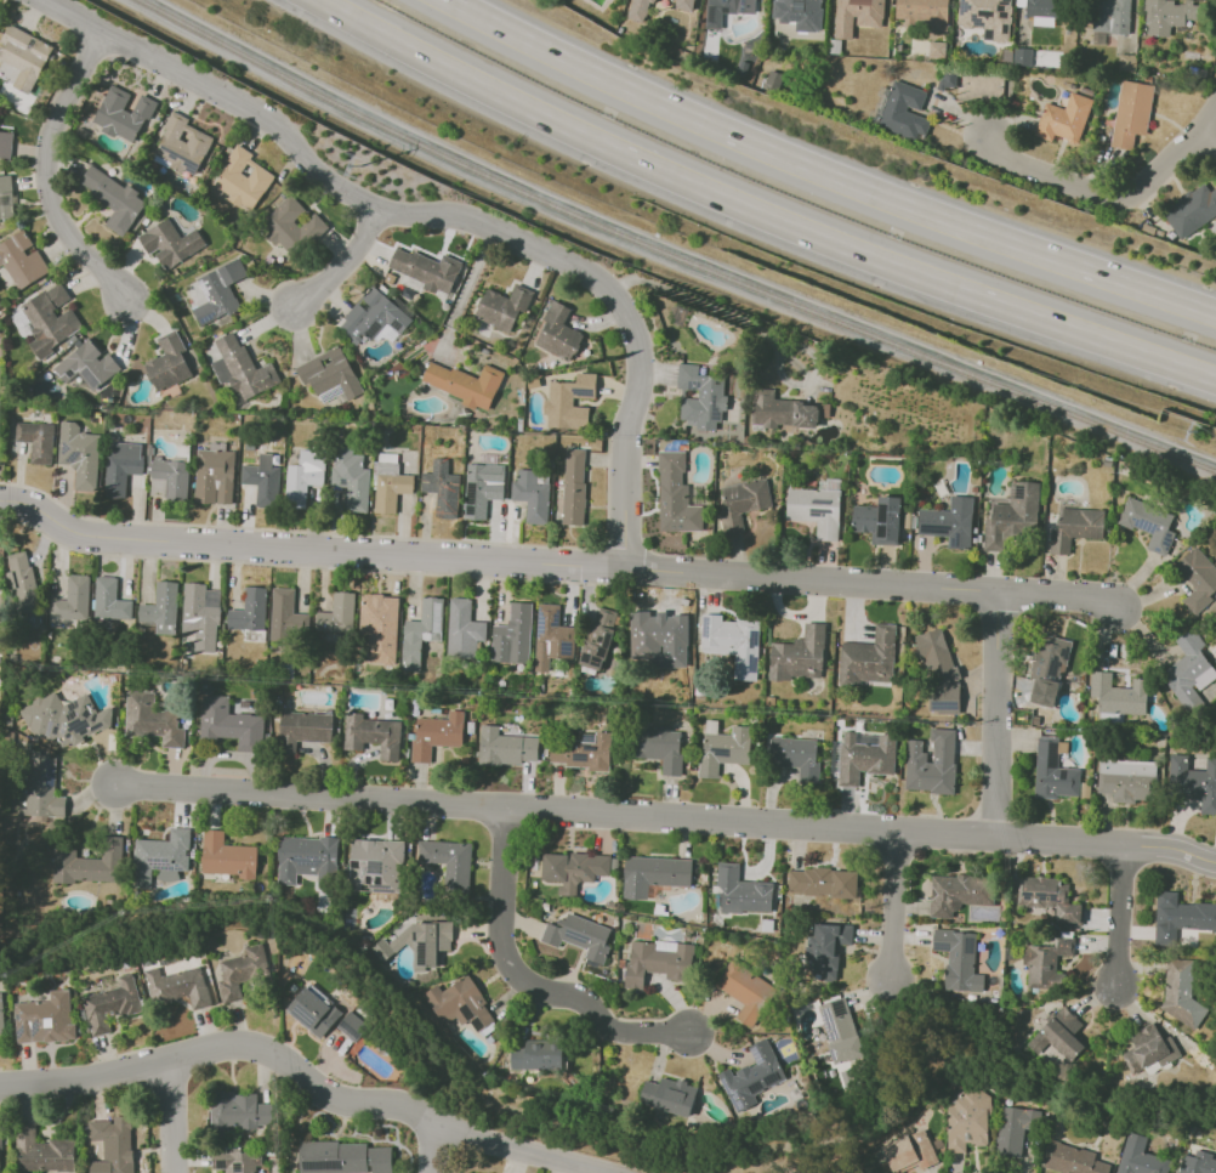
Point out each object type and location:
building: (803, 0)
rooftop solar panel: (1006, 1)
building: (687, 4)
rooftop solar panel: (965, 6)
building: (643, 7)
building: (1049, 8)
building: (720, 10)
rooftop solar panel: (999, 10)
building: (928, 12)
rooftop solar panel: (1004, 13)
building: (1176, 13)
building: (859, 15)
rooftop solar panel: (987, 15)
building: (987, 16)
building: (1110, 16)
rooftop solar panel: (977, 23)
rooftop solar panel: (1005, 29)
building: (936, 49)
building: (23, 56)
building: (1023, 56)
building: (903, 112)
building: (1131, 113)
building: (121, 114)
building: (1063, 119)
road: (1211, 141)
building: (5, 144)
building: (181, 146)
rooftop solar panel: (180, 157)
power tower: (364, 166)
road: (44, 175)
road: (819, 176)
building: (242, 178)
building: (114, 199)
building: (6, 200)
road: (1112, 202)
building: (1191, 210)
road: (447, 215)
road: (754, 216)
building: (289, 226)
building: (169, 243)
railway: (669, 255)
building: (21, 260)
road: (342, 262)
road: (655, 262)
building: (425, 270)
rooftop solar panel: (203, 288)
building: (217, 291)
road: (462, 291)
rooftop solar panel: (363, 306)
building: (501, 307)
building: (371, 317)
building: (49, 318)
rooftop solar panel: (208, 318)
rooftop solar panel: (396, 327)
road: (755, 327)
rooftop solar panel: (371, 330)
building: (558, 333)
building: (167, 363)
building: (86, 365)
building: (240, 368)
building: (329, 375)
building: (465, 384)
rooftop solar panel: (585, 395)
building: (699, 398)
building: (568, 401)
building: (824, 409)
building: (780, 410)
power tower: (1195, 433)
building: (35, 441)
building: (78, 454)
building: (120, 466)
building: (214, 476)
building: (303, 476)
building: (172, 477)
building: (350, 478)
building: (261, 480)
building: (390, 483)
building: (573, 487)
building: (442, 488)
building: (482, 488)
rooftop solar panel: (1021, 489)
building: (532, 494)
building: (675, 494)
rooftop solar panel: (470, 495)
building: (741, 503)
building: (814, 510)
rooftop solar panel: (470, 514)
rooftop solar panel: (883, 514)
building: (1011, 515)
building: (877, 520)
building: (948, 522)
building: (1147, 523)
rooftop solar panel: (937, 526)
rooftop solar panel: (1144, 526)
building: (1074, 528)
rooftop solar panel: (881, 534)
rooftop solar panel: (1167, 539)
rooftop solar panel: (956, 543)
road: (558, 566)
building: (1197, 578)
building: (21, 582)
building: (72, 599)
building: (109, 600)
building: (160, 608)
building: (249, 611)
building: (280, 613)
building: (337, 613)
building: (200, 614)
rooftop solar panel: (436, 617)
rooftop solar panel: (556, 620)
rooftop solar panel: (540, 624)
rooftop solar panel: (706, 627)
building: (376, 628)
building: (420, 631)
building: (461, 631)
building: (511, 635)
rooftop solar panel: (427, 636)
building: (550, 637)
building: (597, 639)
rooftop solar panel: (752, 639)
building: (657, 640)
building: (731, 641)
rooftop solar panel: (566, 648)
rooftop solar panel: (1064, 652)
building: (797, 654)
building: (869, 657)
building: (1047, 664)
rooftop solar panel: (752, 665)
building: (1186, 667)
rooftop solar panel: (1055, 668)
building: (938, 671)
rooftop solar panel: (1056, 678)
rooftop solar panel: (1053, 688)
rooftop solar panel: (1046, 695)
building: (1118, 695)
road: (995, 714)
building: (64, 718)
building: (150, 720)
rooftop solar panel: (74, 721)
building: (227, 722)
rooftop solar panel: (74, 726)
rooftop solar panel: (83, 727)
rooftop solar panel: (95, 727)
rooftop solar panel: (49, 729)
building: (302, 729)
rooftop solar panel: (56, 730)
building: (371, 735)
building: (434, 735)
rooftop solar panel: (589, 739)
building: (504, 747)
building: (659, 748)
building: (722, 750)
building: (583, 752)
rooftop solar panel: (717, 752)
rooftop solar panel: (1052, 754)
building: (795, 755)
rooftop solar panel: (580, 758)
building: (863, 758)
building: (931, 763)
building: (1052, 771)
rooftop solar panel: (1063, 773)
rooftop solar panel: (50, 775)
building: (1126, 780)
building: (1192, 781)
building: (36, 786)
building: (1084, 789)
road: (664, 818)
building: (159, 856)
building: (226, 856)
building: (307, 860)
rooftop solar panel: (157, 861)
building: (447, 861)
building: (89, 863)
building: (375, 865)
rooftop solar panel: (161, 866)
rooftop solar panel: (176, 868)
rooftop solar panel: (376, 869)
building: (573, 869)
building: (653, 874)
rooftop solar panel: (368, 880)
rooftop solar panel: (379, 880)
building: (823, 882)
rooftop solar panel: (368, 889)
building: (740, 891)
building: (960, 892)
rooftop solar panel: (1046, 894)
building: (1047, 897)
road: (897, 911)
road: (1119, 917)
building: (1180, 917)
building: (578, 936)
building: (417, 940)
building: (825, 948)
rooftop solar panel: (422, 952)
building: (958, 959)
building: (657, 962)
building: (1045, 963)
building: (240, 970)
road: (525, 982)
building: (177, 986)
building: (744, 990)
building: (1180, 993)
building: (459, 1003)
building: (109, 1004)
building: (314, 1010)
rooftop solar panel: (466, 1014)
building: (1, 1015)
building: (44, 1019)
building: (352, 1026)
rooftop solar panel: (479, 1026)
building: (839, 1030)
rooftop solar panel: (353, 1032)
building: (1057, 1035)
building: (1147, 1048)
rooftop solar panel: (757, 1054)
building: (535, 1055)
road: (470, 1076)
building: (751, 1076)
road: (303, 1079)
rooftop solar panel: (727, 1090)
building: (667, 1095)
rooftop solar panel: (735, 1095)
building: (237, 1111)
road: (172, 1116)
building: (966, 1117)
building: (1013, 1129)
building: (112, 1144)
road: (430, 1145)
building: (909, 1151)
building: (42, 1152)
building: (342, 1157)
building: (1140, 1157)
building: (237, 1160)
building: (1070, 1160)
building: (1198, 1163)
rooftop solar panel: (221, 1166)
rooftop solar panel: (329, 1166)
building: (0, 1169)
rooftop solar panel: (239, 1169)

